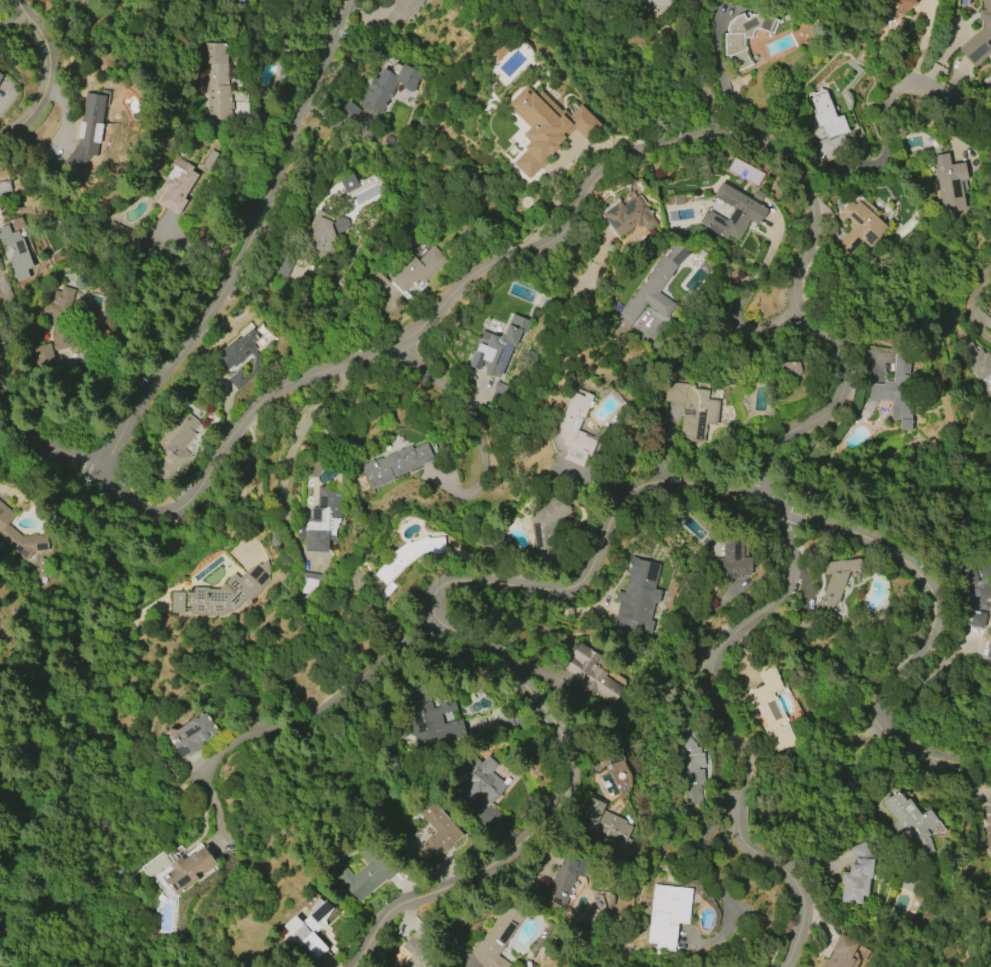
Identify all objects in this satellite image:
building: (898, 6)
road: (15, 10)
building: (660, 10)
building: (401, 12)
building: (743, 36)
building: (978, 36)
building: (500, 51)
building: (0, 75)
building: (0, 76)
road: (46, 77)
building: (217, 79)
building: (388, 87)
road: (960, 105)
building: (348, 111)
building: (546, 128)
building: (828, 128)
building: (87, 131)
building: (209, 159)
building: (950, 183)
building: (177, 186)
building: (362, 188)
road: (810, 192)
building: (734, 212)
building: (626, 217)
building: (858, 227)
building: (117, 229)
building: (326, 234)
road: (247, 244)
building: (15, 251)
building: (417, 270)
building: (651, 295)
road: (973, 304)
road: (733, 315)
building: (55, 326)
building: (497, 348)
building: (236, 350)
building: (977, 362)
building: (237, 380)
building: (890, 395)
building: (691, 410)
road: (10, 412)
building: (575, 429)
road: (474, 430)
building: (174, 445)
road: (289, 460)
building: (396, 464)
building: (321, 520)
building: (547, 523)
building: (19, 537)
building: (408, 555)
road: (592, 557)
building: (732, 558)
building: (309, 583)
building: (835, 583)
building: (976, 592)
building: (227, 593)
building: (637, 596)
building: (176, 602)
building: (988, 651)
building: (589, 673)
building: (768, 707)
road: (318, 708)
building: (431, 717)
building: (194, 735)
building: (692, 766)
building: (478, 781)
building: (909, 821)
building: (987, 823)
building: (605, 827)
building: (436, 836)
building: (187, 870)
building: (365, 874)
building: (856, 875)
building: (558, 883)
road: (720, 891)
building: (667, 915)
building: (309, 928)
building: (496, 938)
building: (420, 950)
building: (842, 952)

